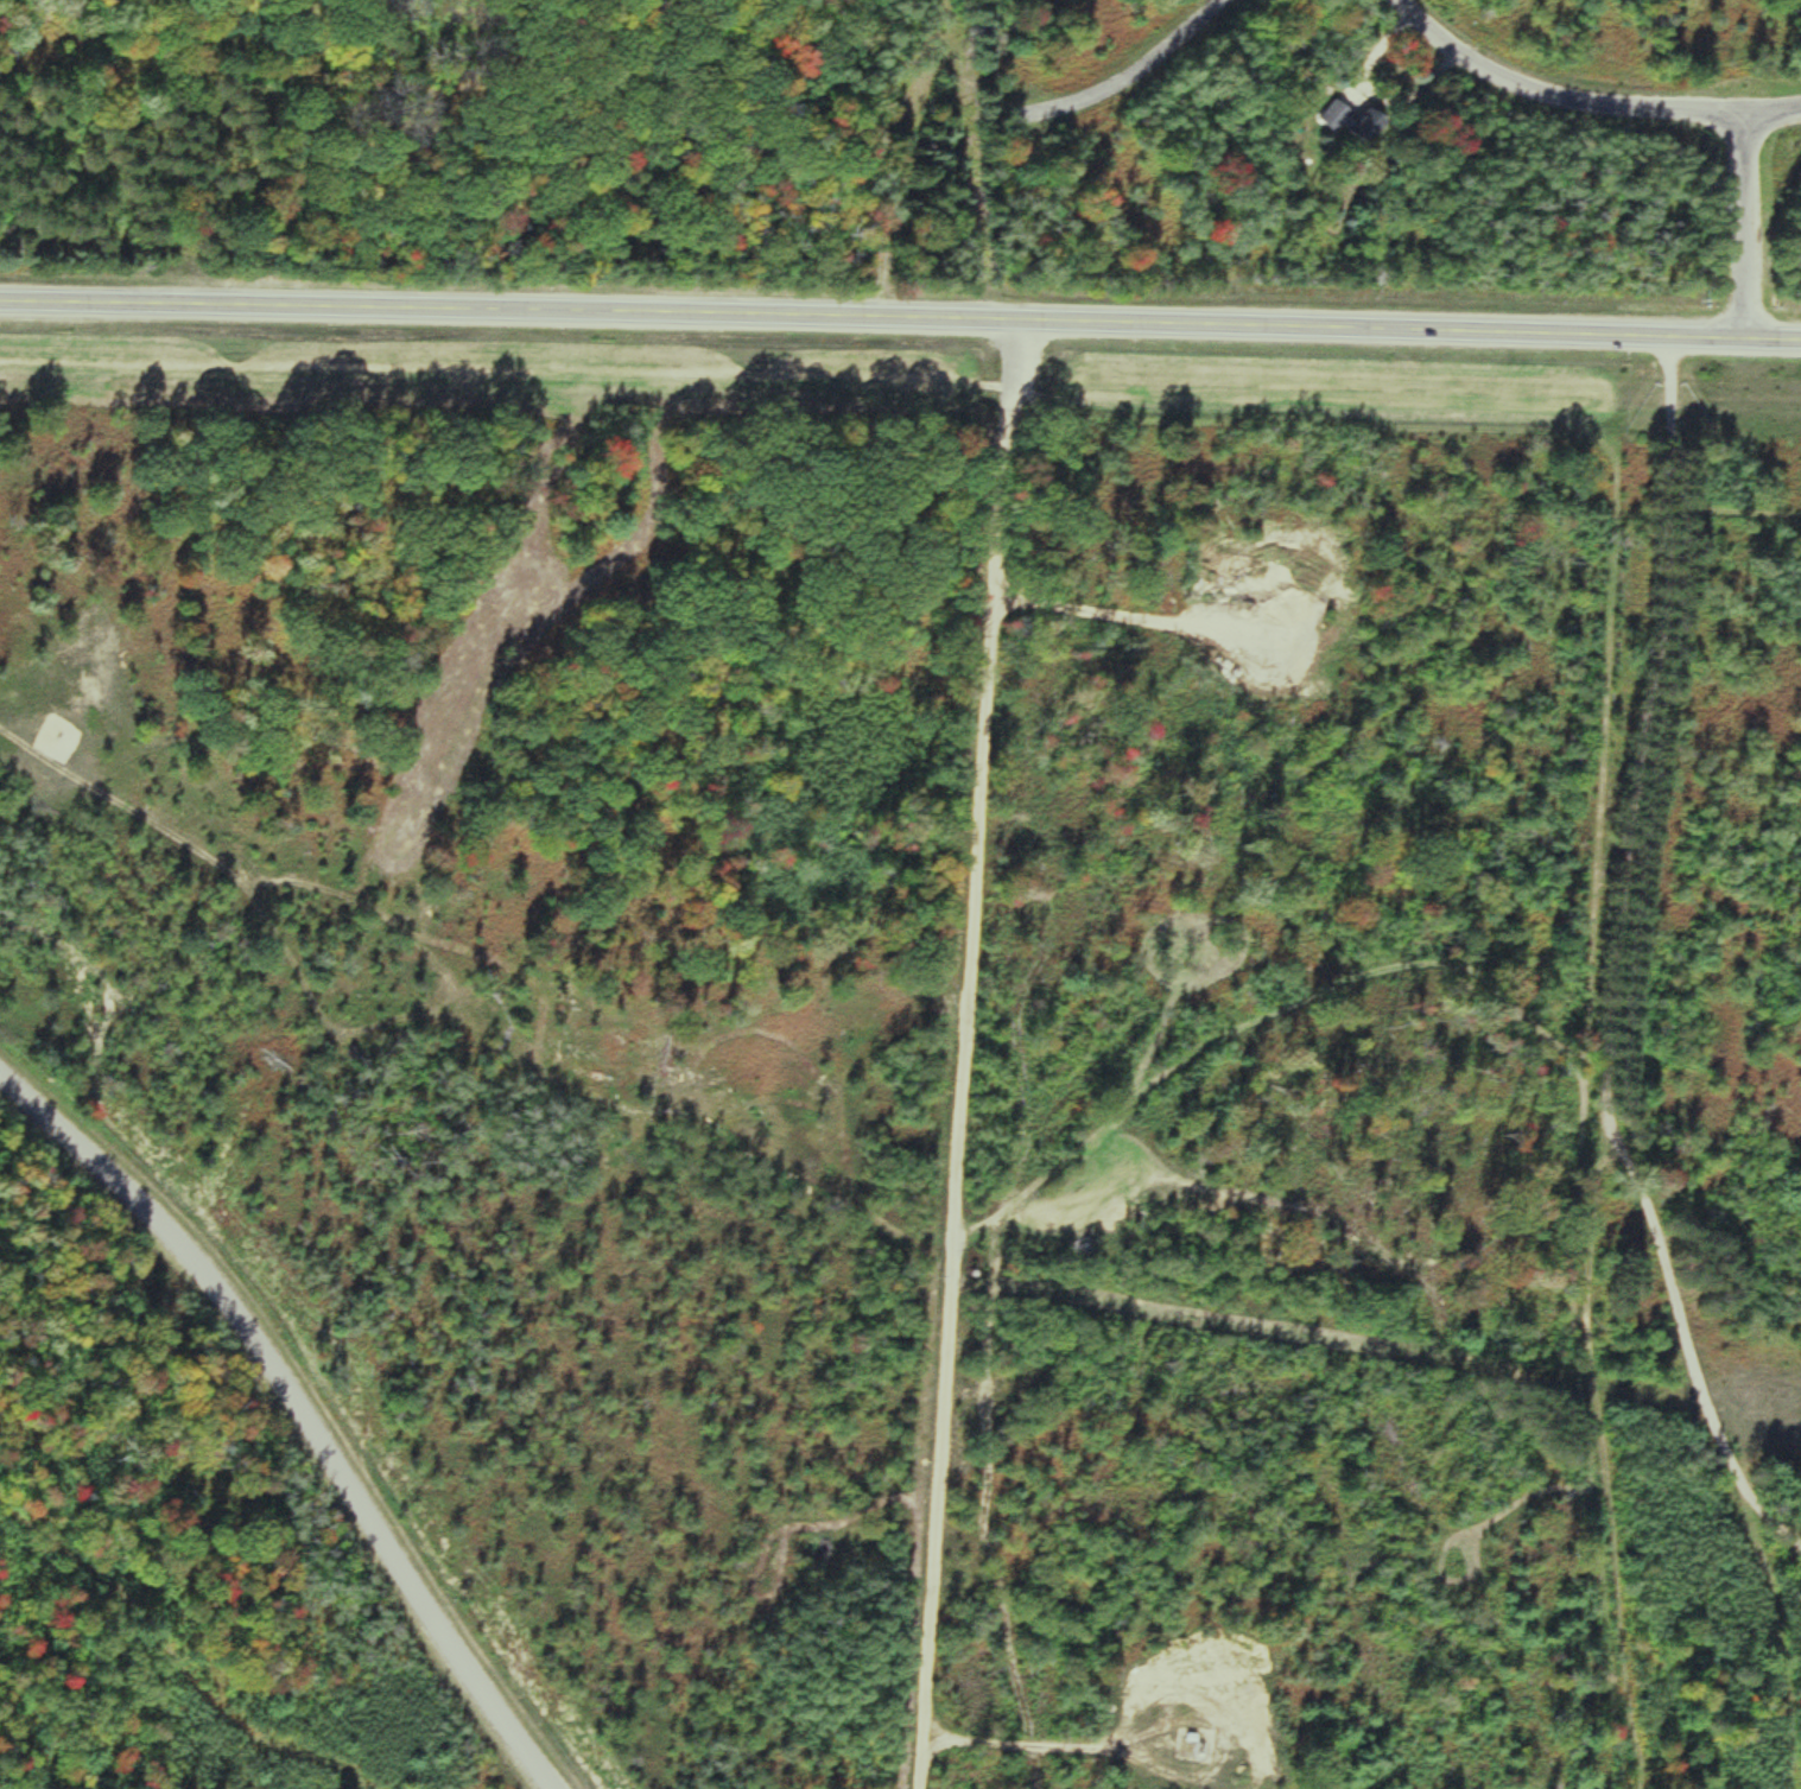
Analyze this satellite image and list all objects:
road: (1134, 71)
road: (1508, 81)
road: (1773, 109)
road: (1694, 110)
road: (1743, 226)
road: (900, 318)
road: (1733, 506)
road: (1097, 605)
petroleum well: (1260, 647)
road: (1604, 959)
road: (959, 1053)
road: (681, 1108)
road: (1596, 1404)
road: (303, 1419)
road: (1026, 1739)
petroleum well: (1207, 1743)

